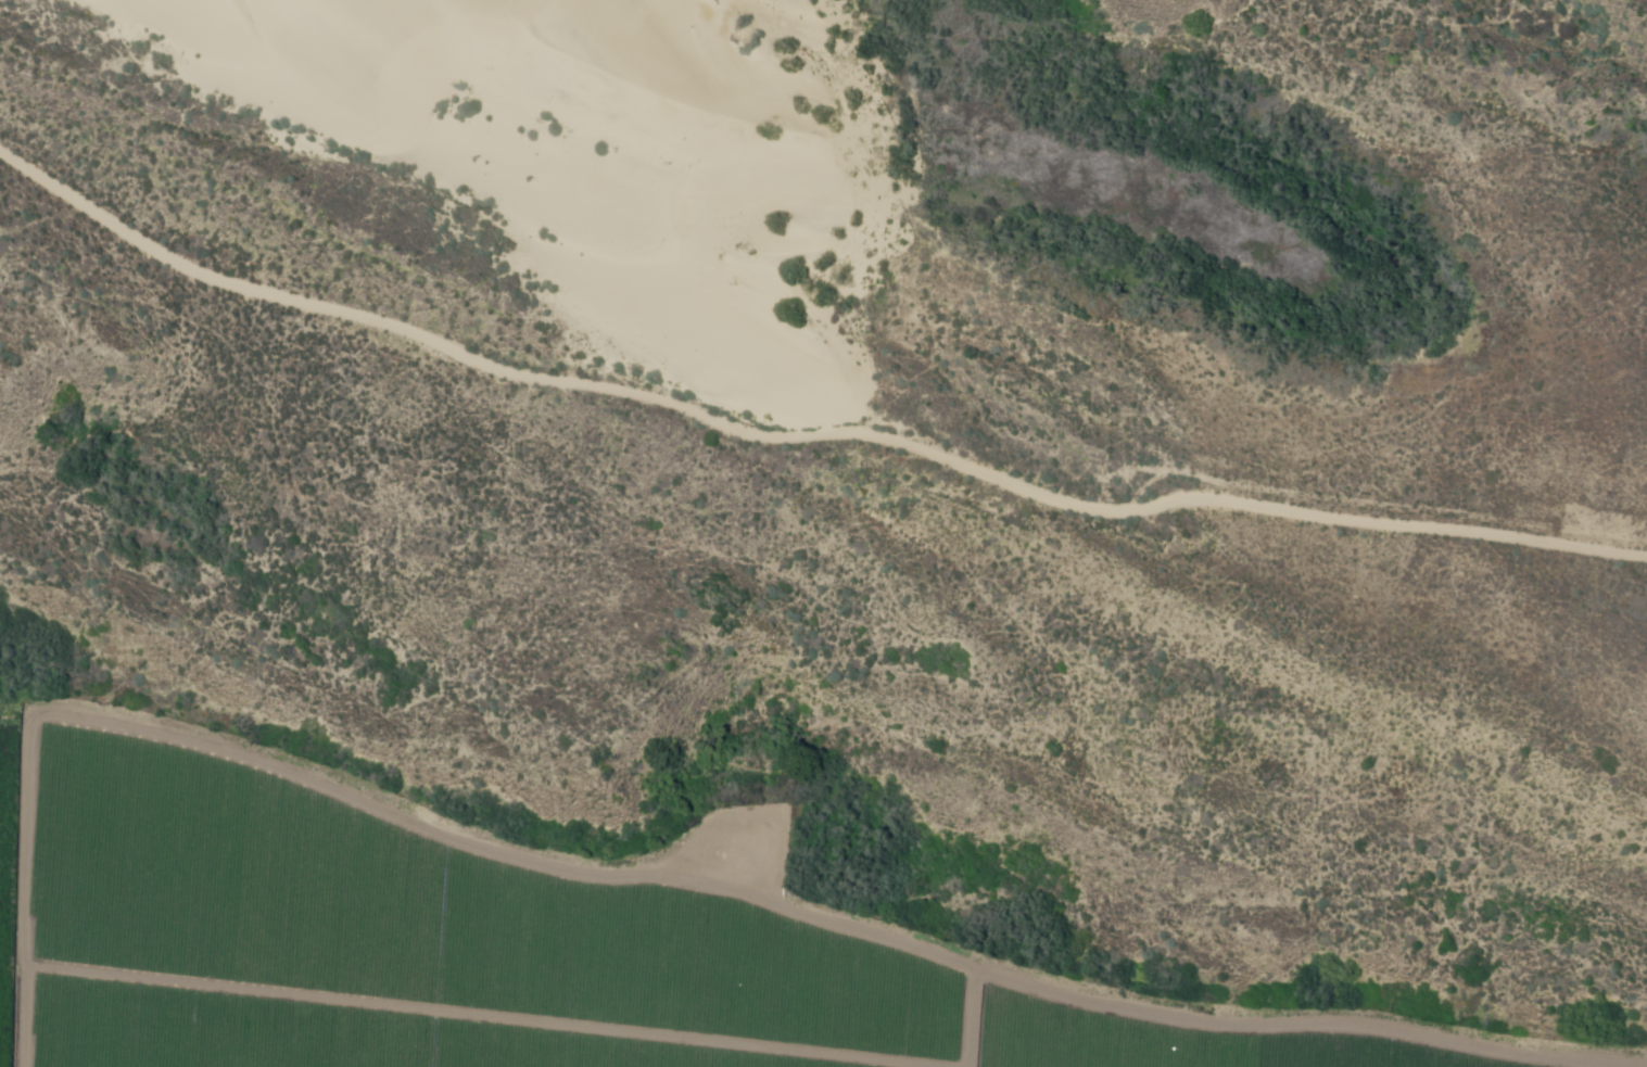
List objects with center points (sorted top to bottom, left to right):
road: (802, 435)
park: (877, 457)
crop: (345, 880)
crop: (444, 1022)
crop: (1180, 1041)

